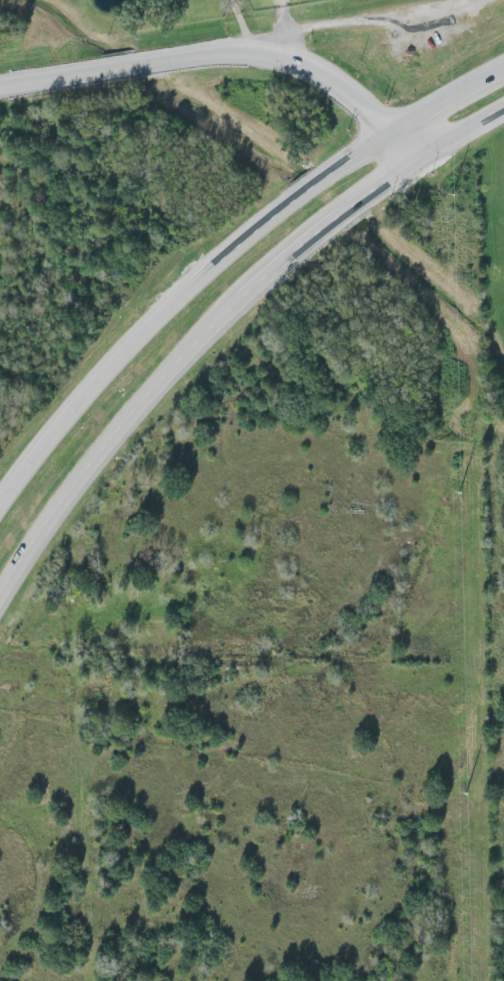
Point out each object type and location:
road: (355, 16)
road: (240, 26)
road: (228, 54)
road: (444, 100)
road: (457, 139)
power tower: (450, 189)
road: (175, 300)
road: (179, 355)
power tower: (457, 485)
power tower: (463, 788)

